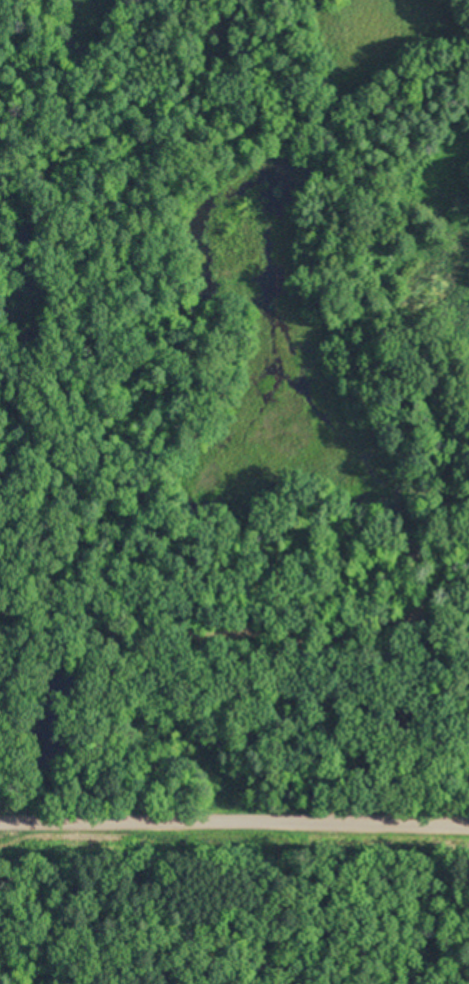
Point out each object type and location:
road: (234, 828)

